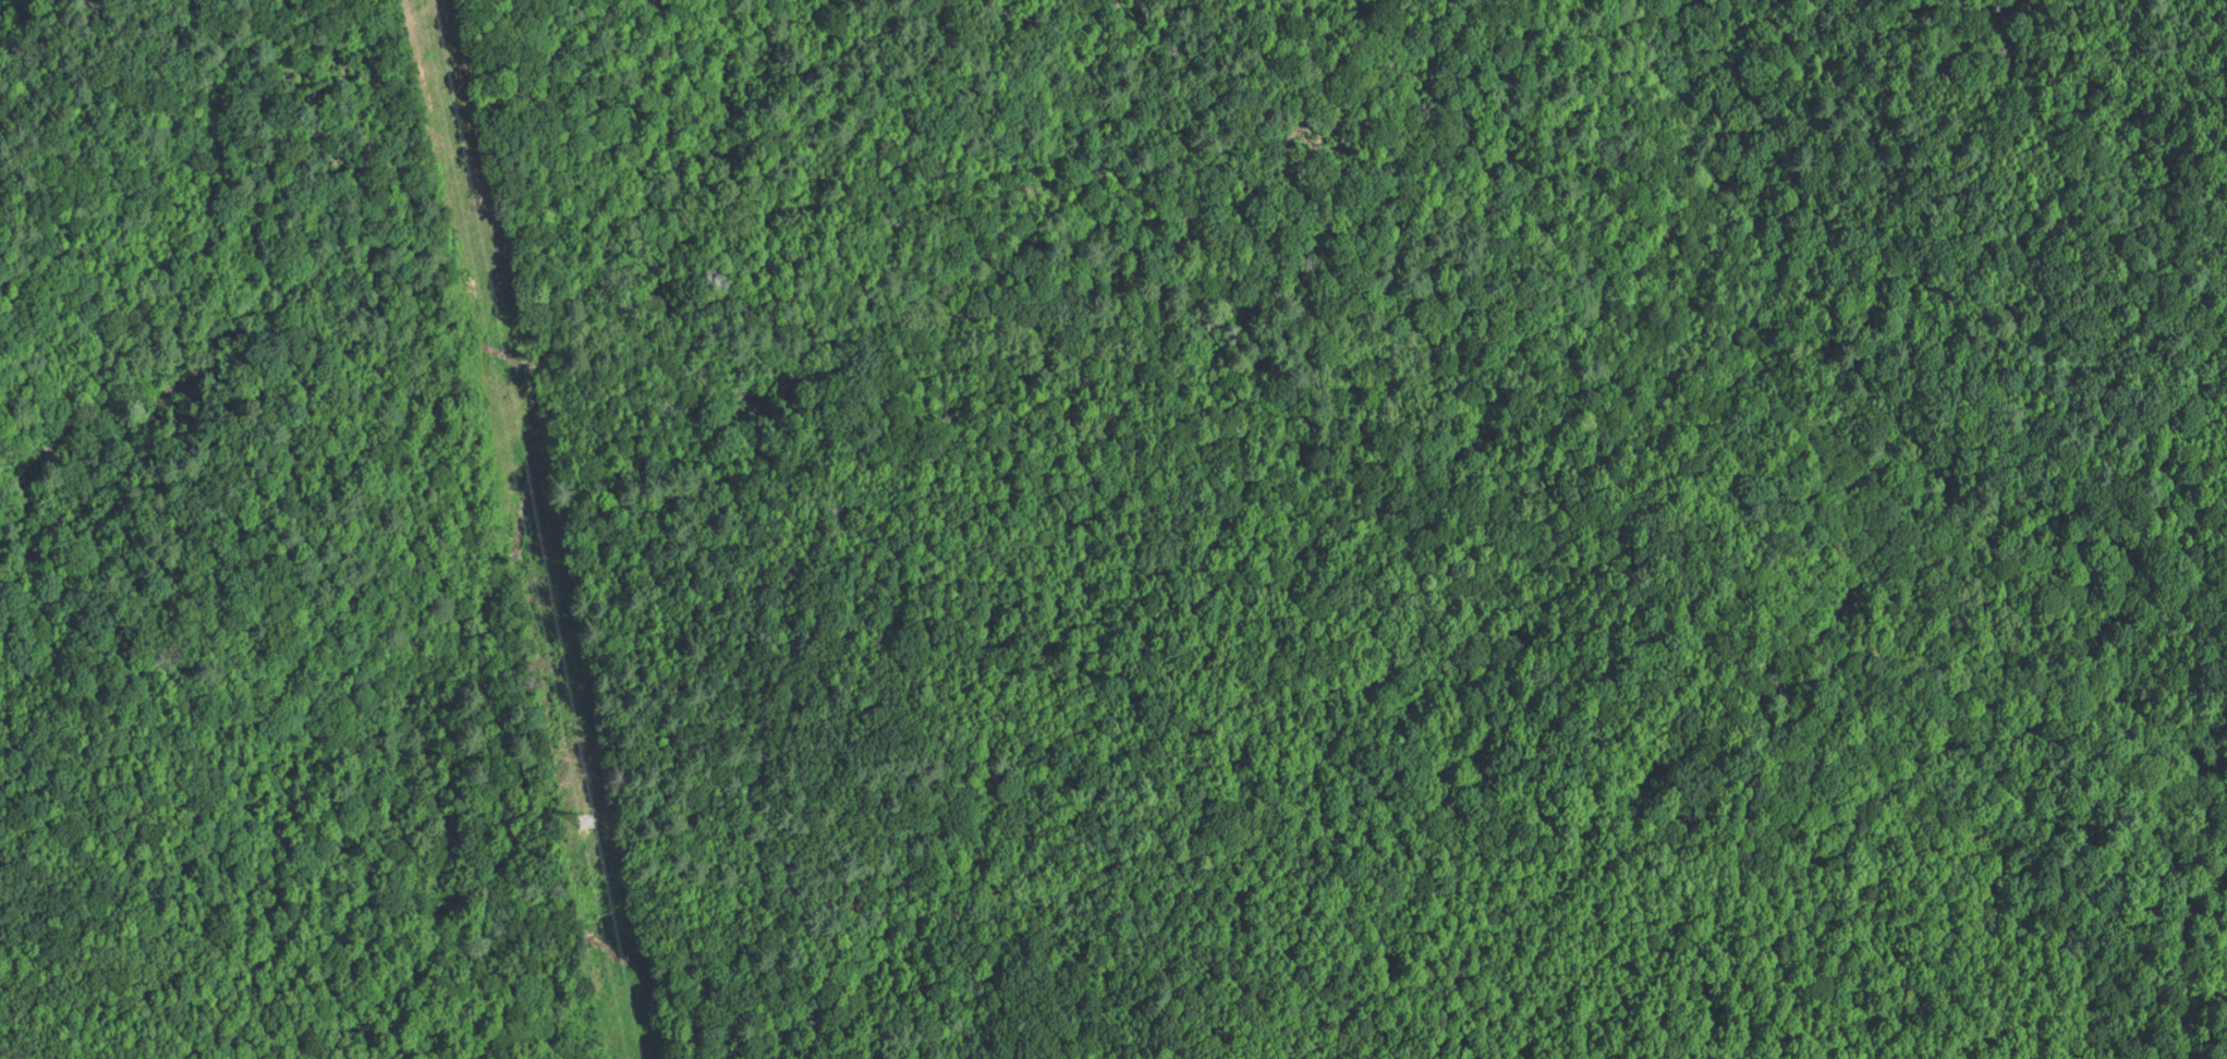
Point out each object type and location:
power tower: (587, 825)

